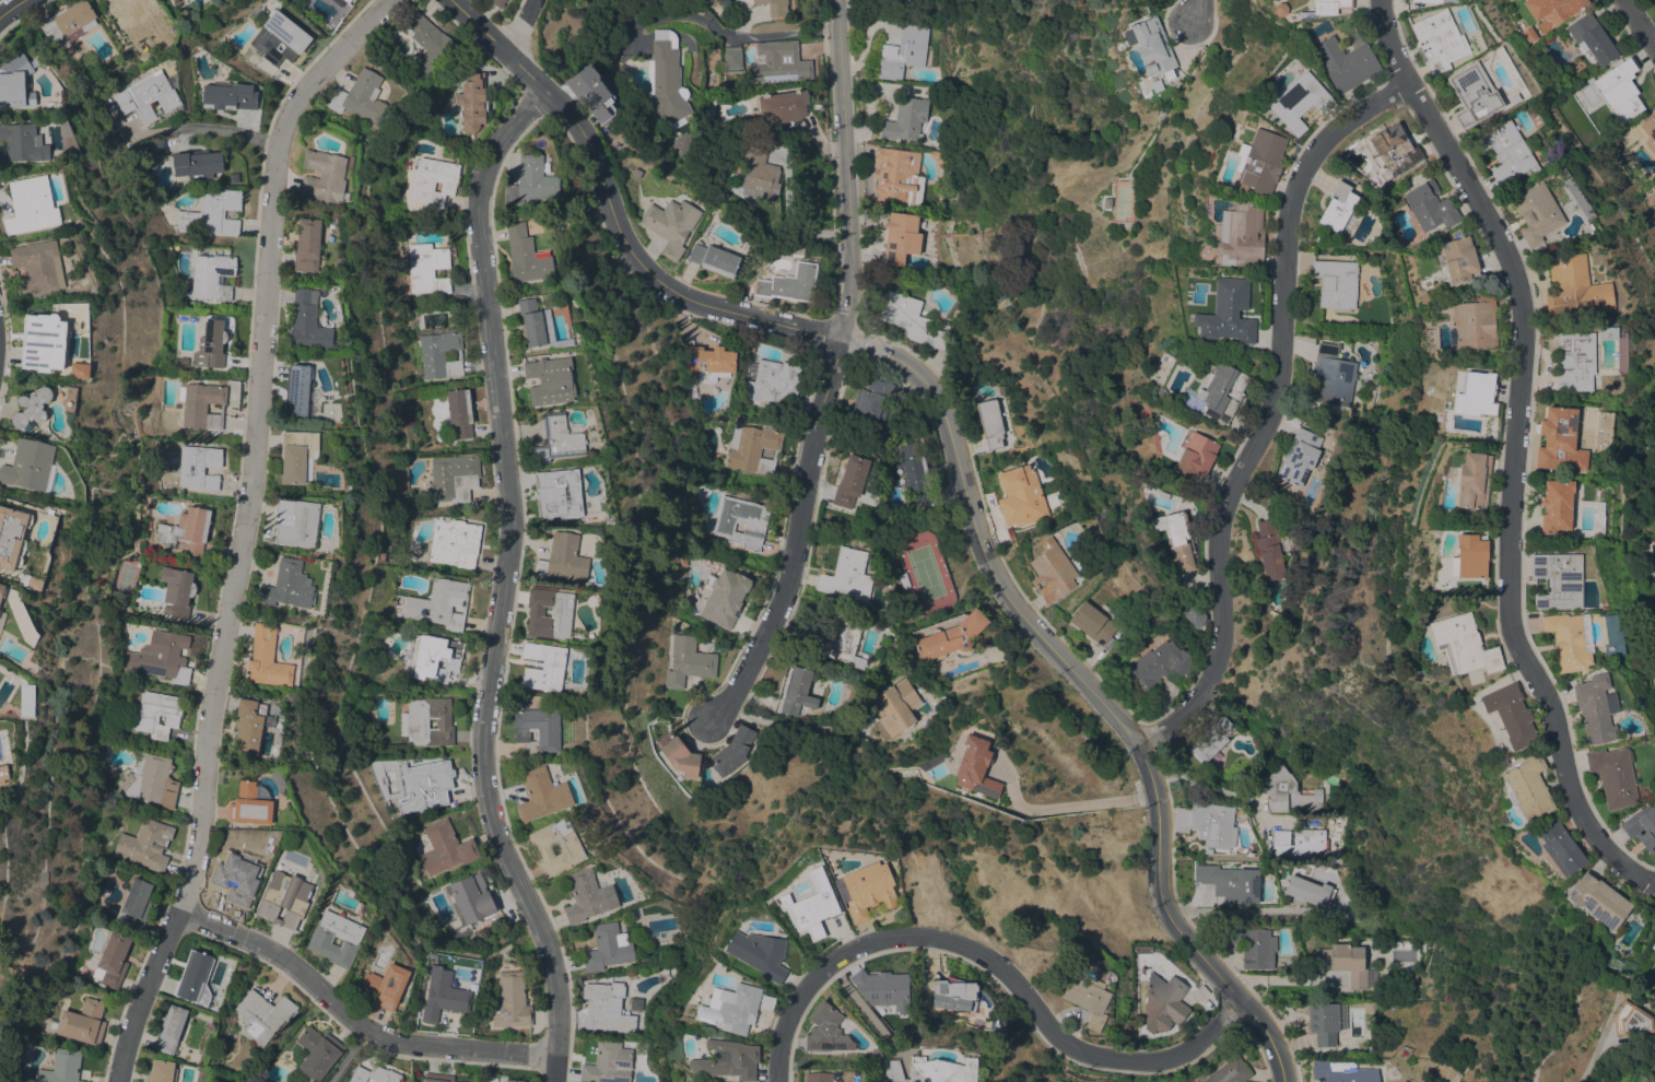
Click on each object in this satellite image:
building: (172, 0)
building: (174, 0)
building: (347, 0)
building: (350, 0)
building: (906, 0)
building: (1427, 1)
building: (498, 2)
building: (775, 7)
building: (1325, 8)
building: (127, 9)
road: (13, 10)
building: (1552, 10)
road: (1192, 11)
building: (69, 22)
road: (1638, 24)
road: (525, 30)
building: (1529, 34)
road: (726, 36)
building: (280, 38)
building: (1437, 40)
building: (1592, 40)
building: (430, 42)
building: (1152, 46)
building: (905, 50)
building: (732, 58)
building: (1346, 61)
building: (777, 62)
building: (666, 78)
building: (15, 82)
building: (1620, 90)
building: (591, 92)
building: (152, 94)
building: (1472, 94)
building: (228, 96)
building: (361, 96)
building: (472, 101)
building: (1298, 101)
building: (783, 107)
building: (905, 118)
building: (1648, 130)
road: (214, 132)
building: (23, 142)
building: (682, 143)
building: (1616, 144)
building: (155, 149)
building: (1393, 151)
building: (1504, 151)
building: (939, 156)
building: (1259, 162)
building: (197, 164)
road: (845, 165)
building: (324, 176)
building: (760, 176)
building: (897, 176)
building: (433, 180)
building: (531, 181)
building: (1654, 181)
road: (605, 183)
building: (31, 204)
building: (1338, 207)
building: (1430, 207)
building: (212, 212)
building: (1536, 213)
building: (670, 224)
building: (1241, 235)
building: (901, 236)
building: (307, 245)
building: (790, 249)
building: (526, 255)
building: (714, 259)
building: (1459, 259)
building: (37, 266)
building: (429, 268)
building: (212, 275)
building: (1335, 282)
building: (787, 284)
building: (1574, 287)
building: (1228, 313)
building: (908, 318)
building: (307, 321)
building: (1474, 322)
building: (538, 325)
road: (808, 327)
building: (1606, 333)
building: (45, 342)
building: (214, 342)
building: (439, 351)
building: (1574, 361)
building: (708, 362)
building: (80, 369)
building: (1331, 376)
building: (550, 380)
building: (772, 381)
building: (297, 389)
building: (1221, 391)
building: (1479, 395)
building: (871, 399)
building: (202, 404)
building: (32, 408)
road: (1269, 411)
building: (459, 412)
building: (1439, 417)
building: (990, 423)
building: (557, 439)
building: (1558, 440)
building: (754, 449)
road: (1513, 451)
building: (1195, 455)
building: (297, 456)
building: (1299, 457)
building: (31, 464)
building: (197, 466)
building: (915, 473)
building: (454, 477)
building: (1472, 480)
building: (850, 482)
building: (559, 493)
building: (1020, 495)
building: (1554, 505)
building: (296, 521)
building: (741, 521)
road: (240, 528)
building: (186, 531)
building: (13, 536)
road: (796, 536)
building: (1178, 541)
building: (454, 543)
building: (1269, 549)
building: (1469, 556)
building: (562, 558)
building: (682, 561)
building: (1052, 571)
building: (847, 575)
building: (903, 579)
building: (1556, 580)
building: (35, 583)
road: (503, 583)
building: (287, 586)
building: (2, 590)
building: (177, 591)
building: (724, 597)
building: (442, 603)
building: (396, 608)
building: (561, 611)
building: (1193, 613)
building: (1092, 622)
building: (947, 637)
building: (836, 639)
building: (1569, 639)
building: (1462, 645)
building: (437, 655)
building: (161, 657)
building: (267, 658)
building: (688, 661)
building: (1158, 665)
building: (543, 666)
road: (1085, 690)
building: (797, 691)
building: (26, 699)
building: (894, 706)
building: (1595, 708)
building: (155, 713)
building: (1510, 715)
building: (413, 722)
building: (250, 725)
road: (786, 726)
building: (537, 729)
building: (1211, 740)
building: (732, 751)
building: (681, 756)
building: (976, 767)
building: (3, 774)
building: (1613, 776)
building: (150, 780)
building: (423, 786)
building: (1528, 787)
road: (1218, 791)
building: (1287, 791)
building: (541, 795)
road: (1088, 803)
building: (250, 804)
building: (1182, 820)
building: (1213, 825)
building: (1642, 826)
building: (145, 844)
building: (1300, 845)
building: (445, 847)
building: (1559, 848)
building: (571, 849)
building: (1207, 850)
building: (212, 865)
building: (239, 877)
building: (1230, 883)
building: (868, 890)
building: (1308, 892)
building: (587, 896)
building: (472, 897)
building: (283, 898)
building: (1597, 899)
building: (134, 905)
building: (817, 907)
building: (465, 936)
building: (349, 938)
building: (1653, 945)
building: (1253, 946)
building: (608, 948)
building: (759, 953)
building: (1654, 954)
building: (113, 960)
building: (1343, 962)
road: (990, 965)
building: (195, 978)
building: (385, 985)
building: (883, 990)
building: (953, 995)
building: (444, 996)
building: (1087, 998)
building: (510, 1000)
building: (766, 1002)
building: (635, 1003)
building: (1162, 1004)
building: (606, 1007)
building: (731, 1008)
building: (262, 1016)
building: (1630, 1020)
building: (80, 1022)
building: (1326, 1022)
road: (355, 1024)
building: (172, 1028)
building: (825, 1030)
building: (317, 1052)
road: (345, 1055)
building: (876, 1055)
road: (1591, 1058)
building: (728, 1060)
building: (608, 1063)
building: (61, 1067)
building: (931, 1070)
building: (161, 1071)
building: (1229, 1071)
building: (1338, 1071)
building: (374, 1074)
building: (818, 1077)
building: (437, 1078)
building: (513, 1080)
building: (1057, 1081)

